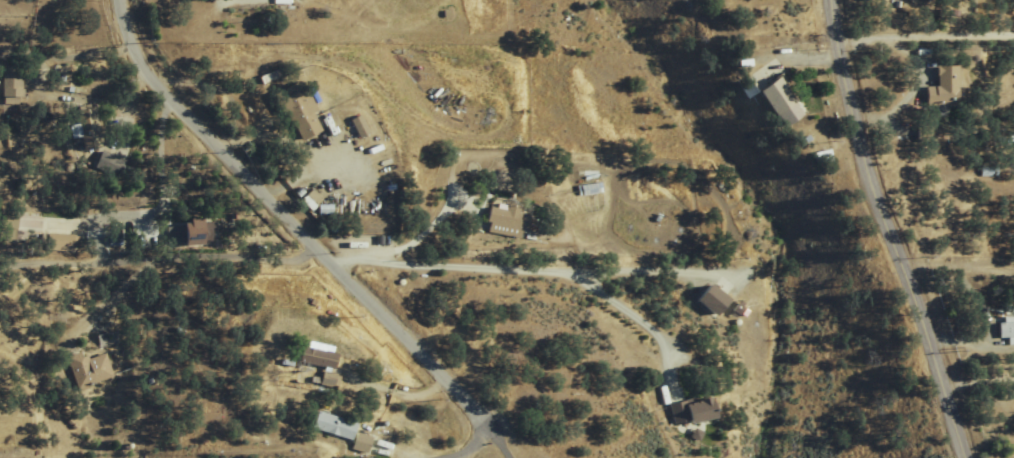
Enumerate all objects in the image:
building: (926, 0)
road: (922, 28)
building: (9, 85)
building: (941, 87)
building: (775, 102)
building: (296, 111)
building: (355, 127)
building: (503, 217)
road: (294, 223)
road: (883, 231)
building: (190, 233)
building: (58, 243)
road: (163, 257)
building: (709, 300)
building: (1005, 329)
building: (317, 361)
building: (88, 370)
building: (691, 410)
building: (339, 430)
road: (384, 455)

